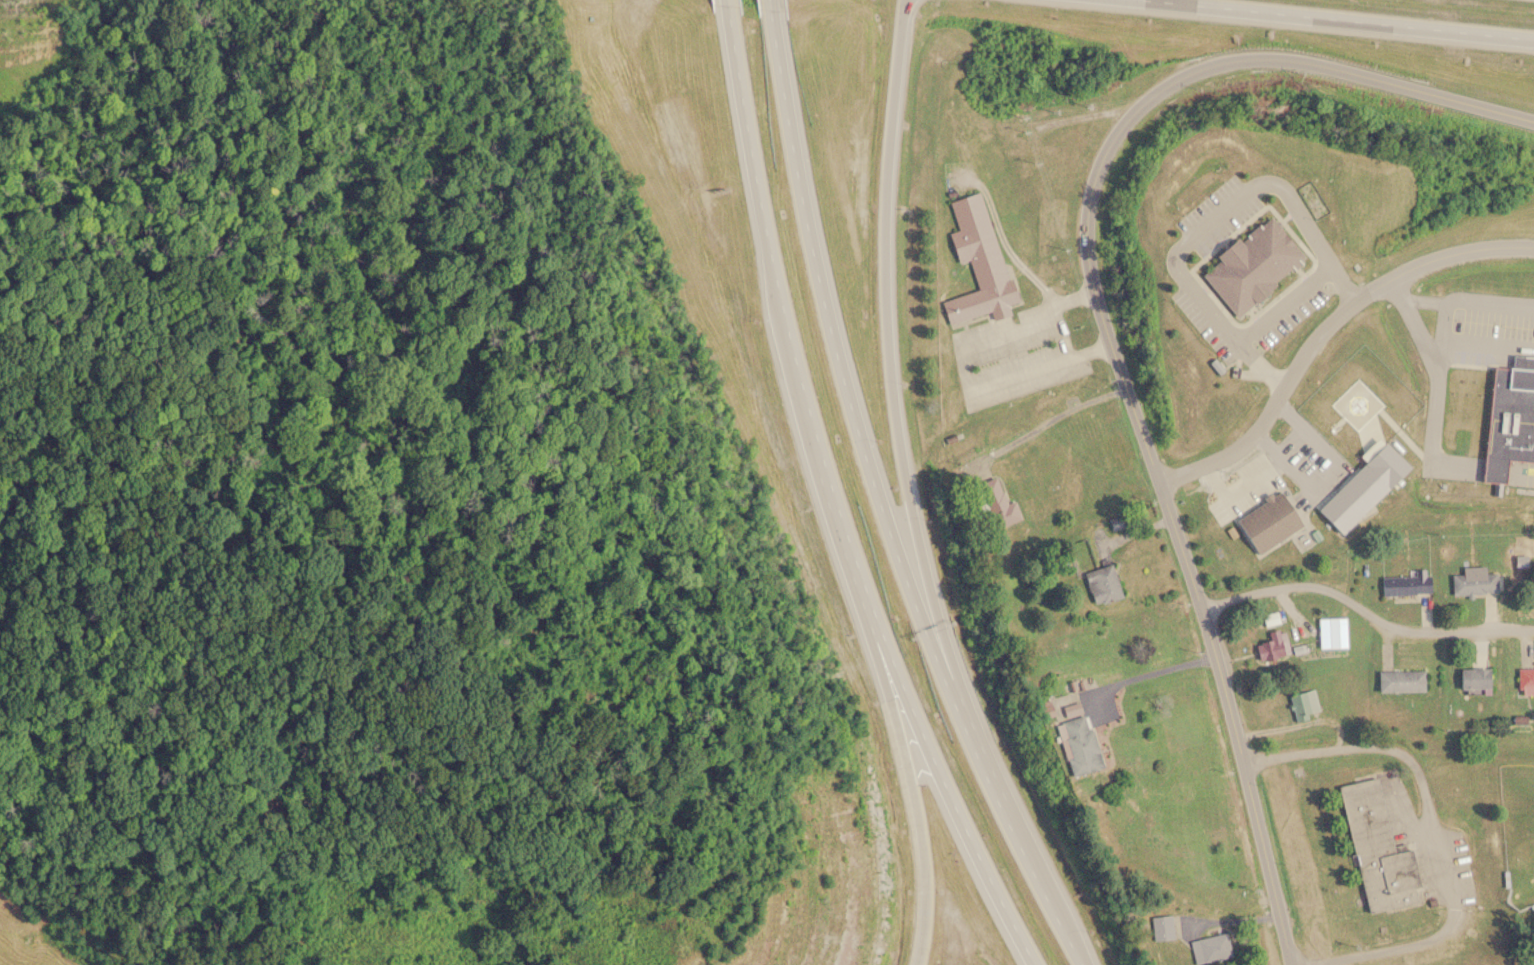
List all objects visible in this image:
road: (778, 3)
road: (1324, 22)
building: (977, 264)
building: (1251, 266)
road: (1468, 299)
road: (1442, 322)
road: (1323, 325)
road: (1105, 332)
road: (789, 340)
road: (890, 342)
building: (1369, 343)
road: (844, 348)
road: (1480, 350)
road: (1432, 383)
helipad: (1358, 403)
road: (1493, 466)
road: (1521, 470)
building: (997, 503)
building: (1103, 583)
building: (1474, 583)
building: (1405, 584)
road: (1364, 612)
building: (1270, 617)
building: (1336, 631)
building: (1272, 644)
building: (1473, 677)
building: (1399, 679)
building: (1525, 680)
building: (1303, 703)
building: (1041, 708)
building: (1076, 744)
road: (924, 816)
road: (961, 818)
road: (1018, 823)
road: (1432, 825)
park: (1516, 831)
building: (1376, 850)
building: (1160, 927)
building: (1210, 947)

